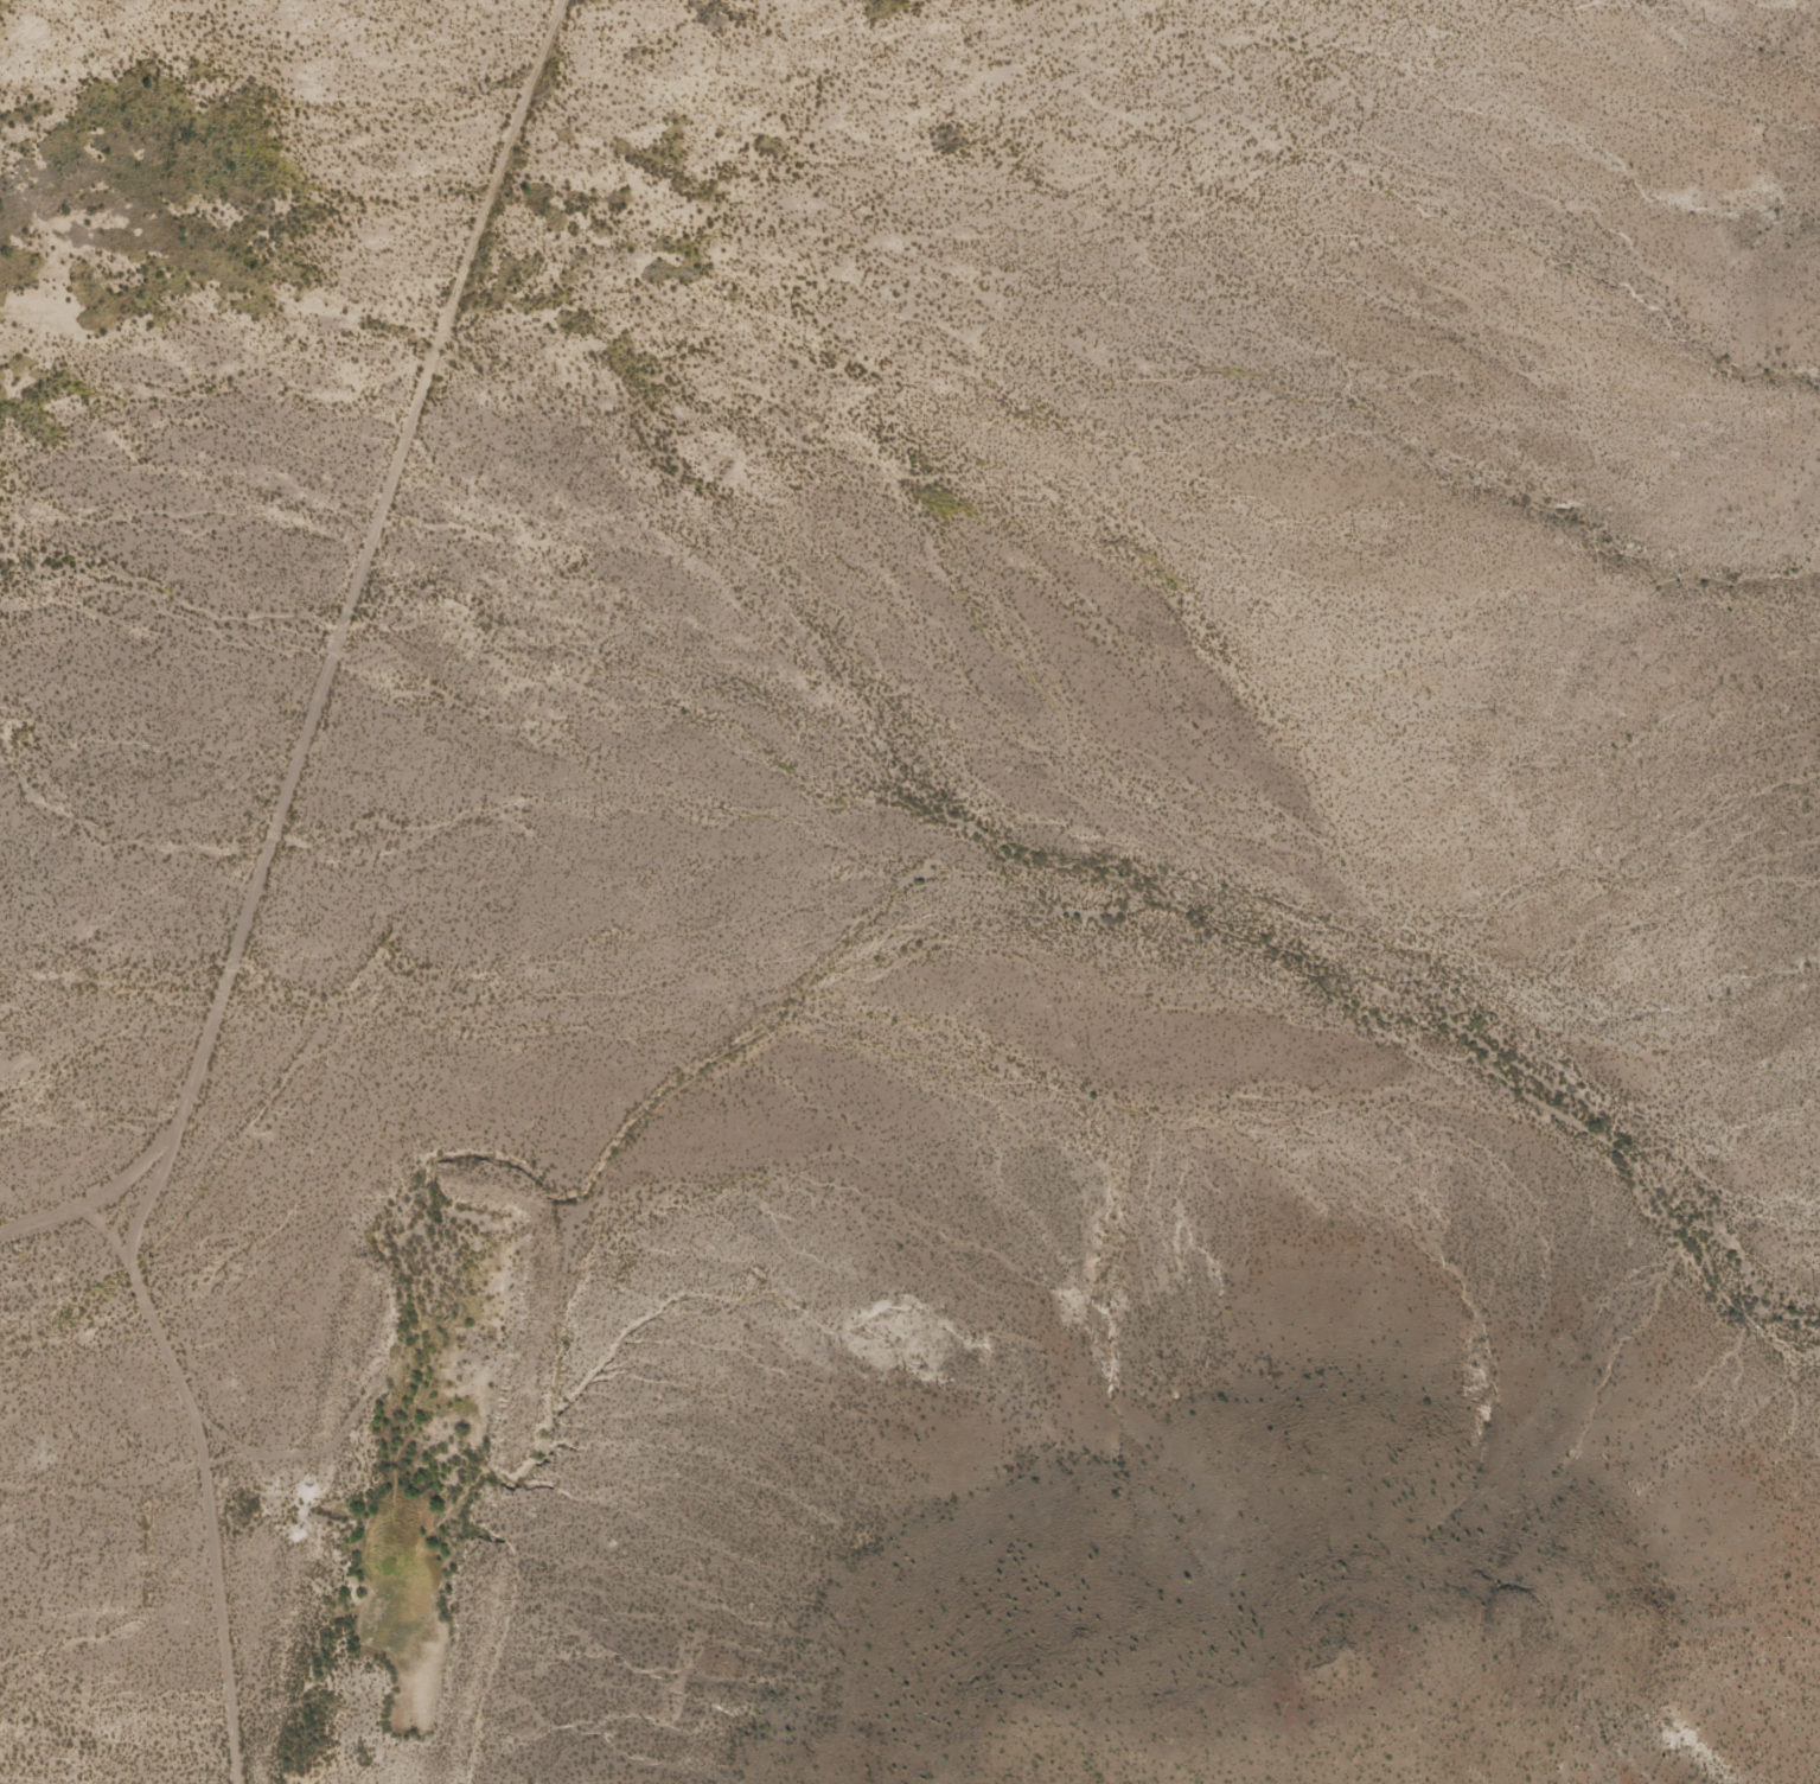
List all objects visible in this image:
road: (296, 652)
road: (190, 1491)

